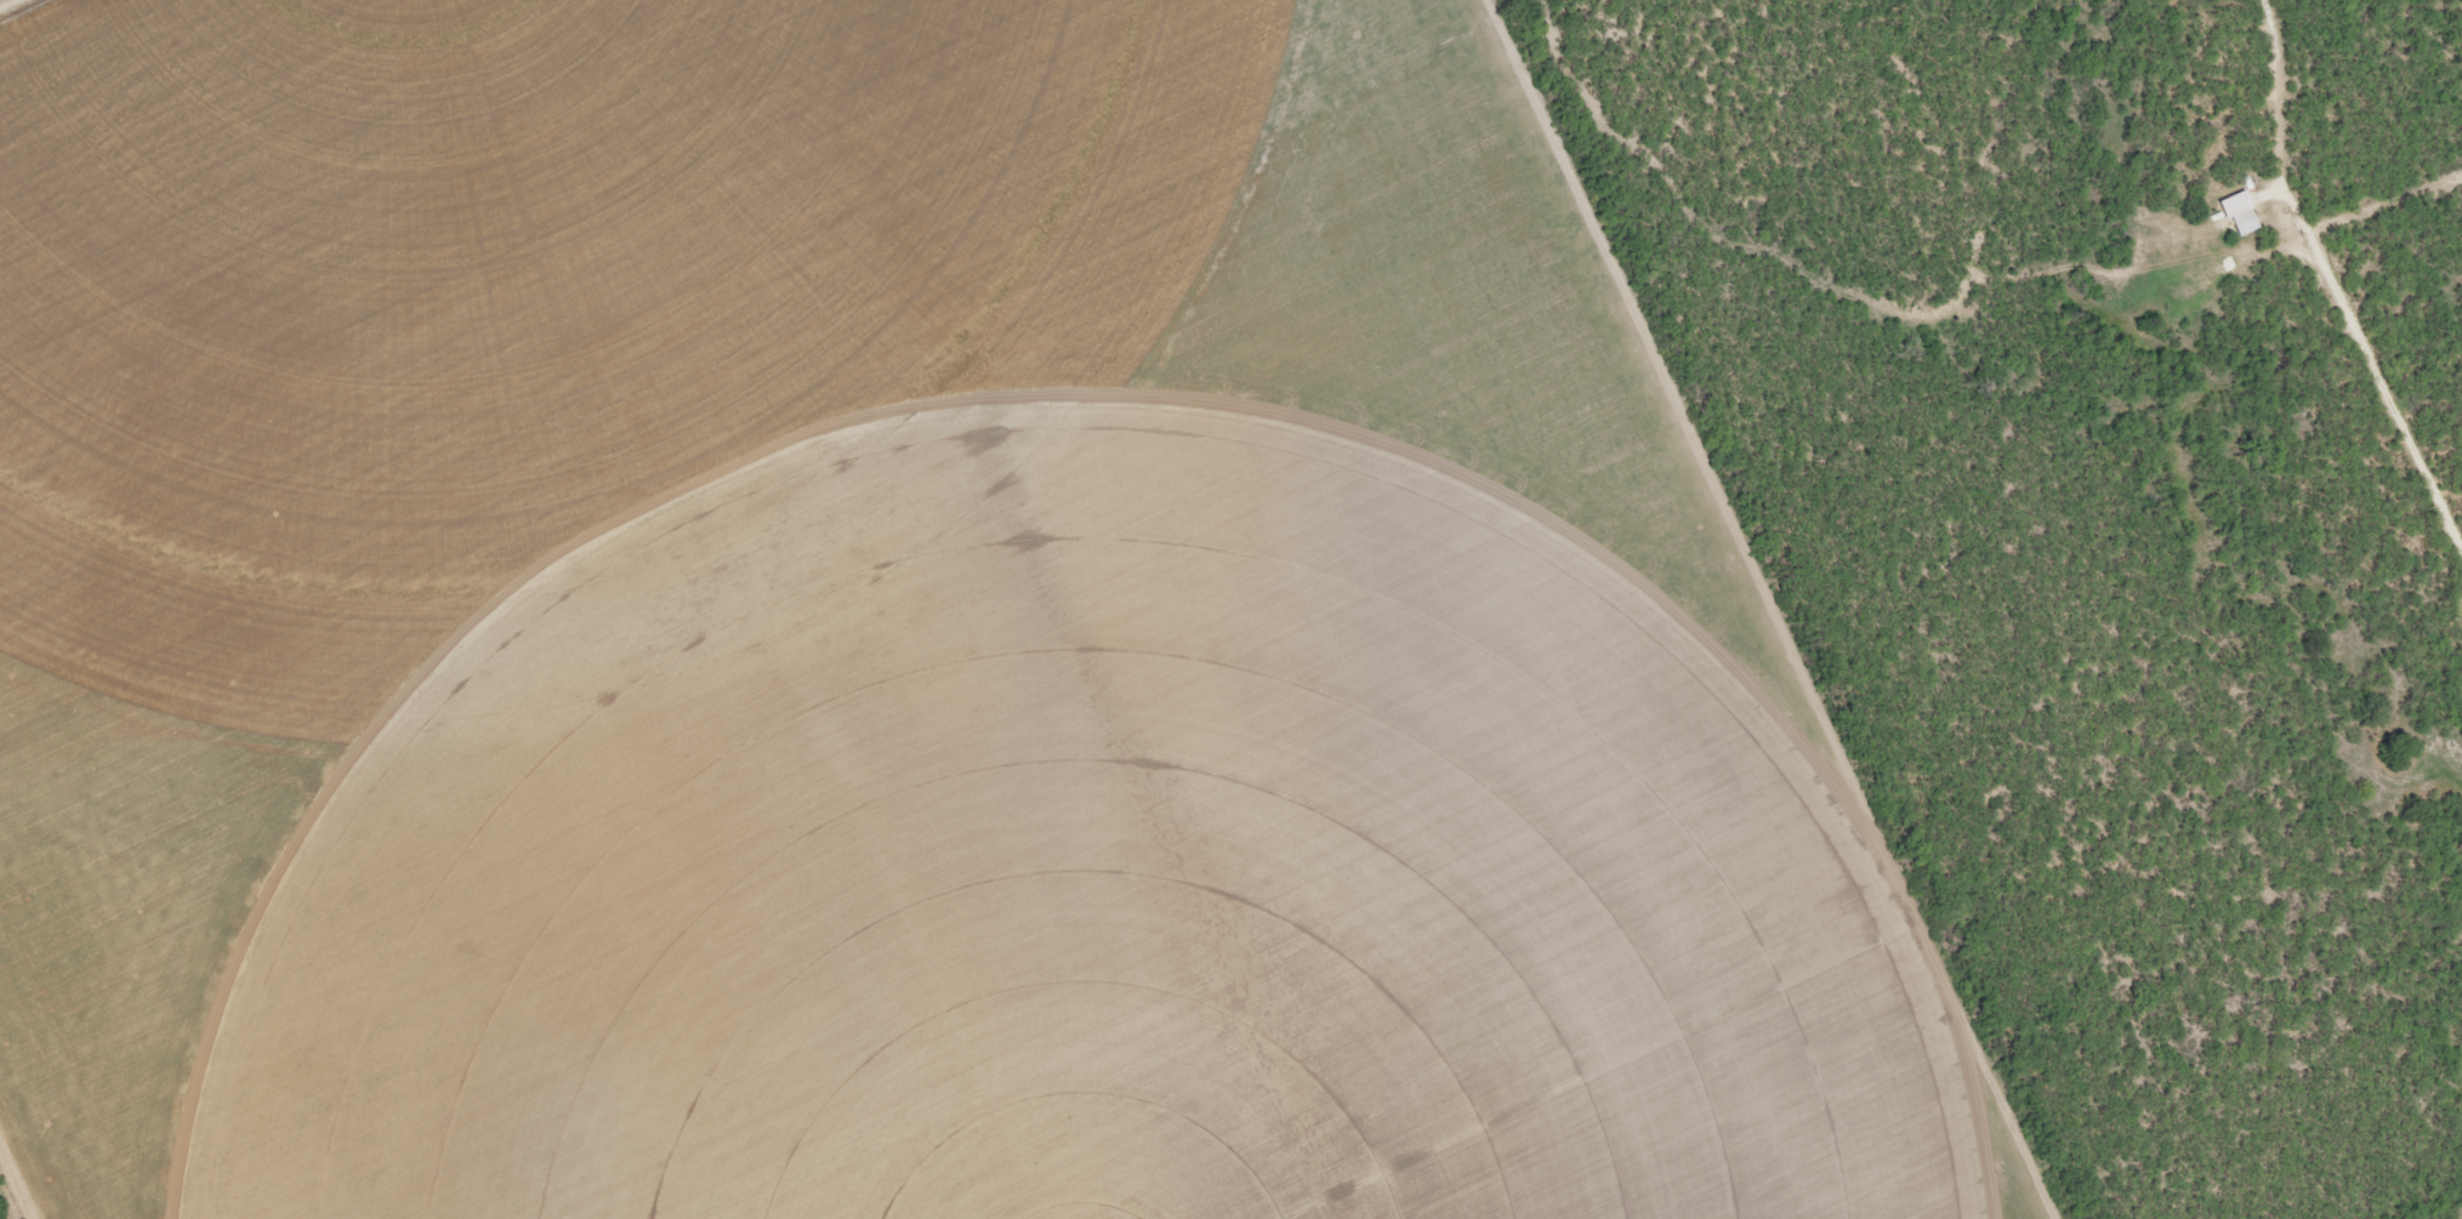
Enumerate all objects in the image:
building: (2245, 223)
road: (2387, 434)

